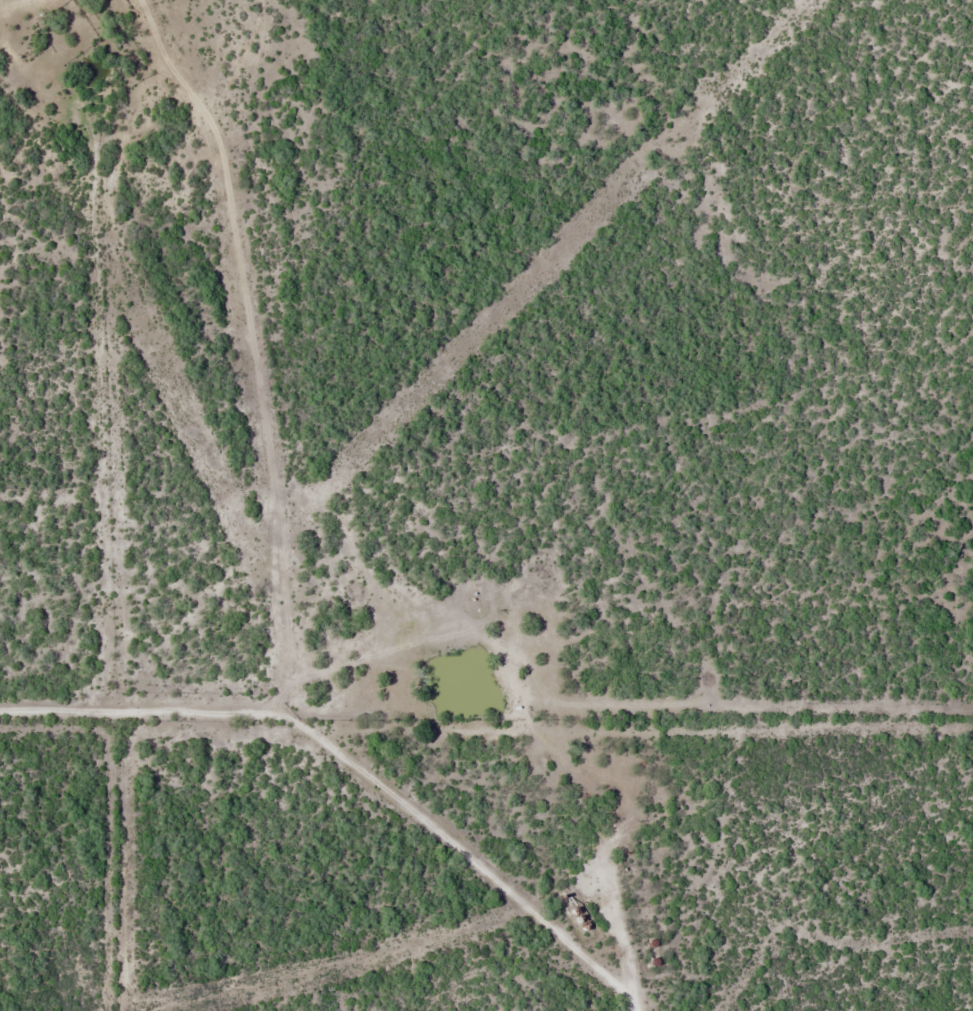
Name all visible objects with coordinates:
road: (630, 975)

